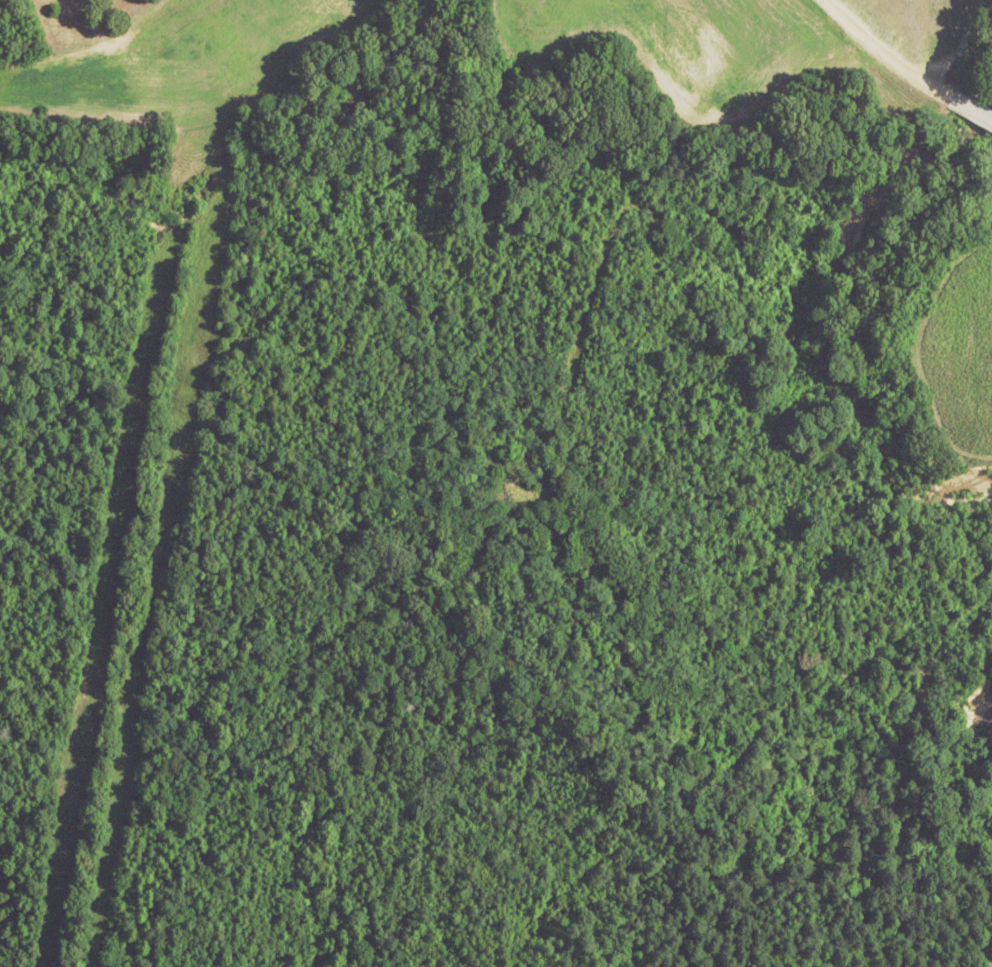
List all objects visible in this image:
road: (904, 82)

